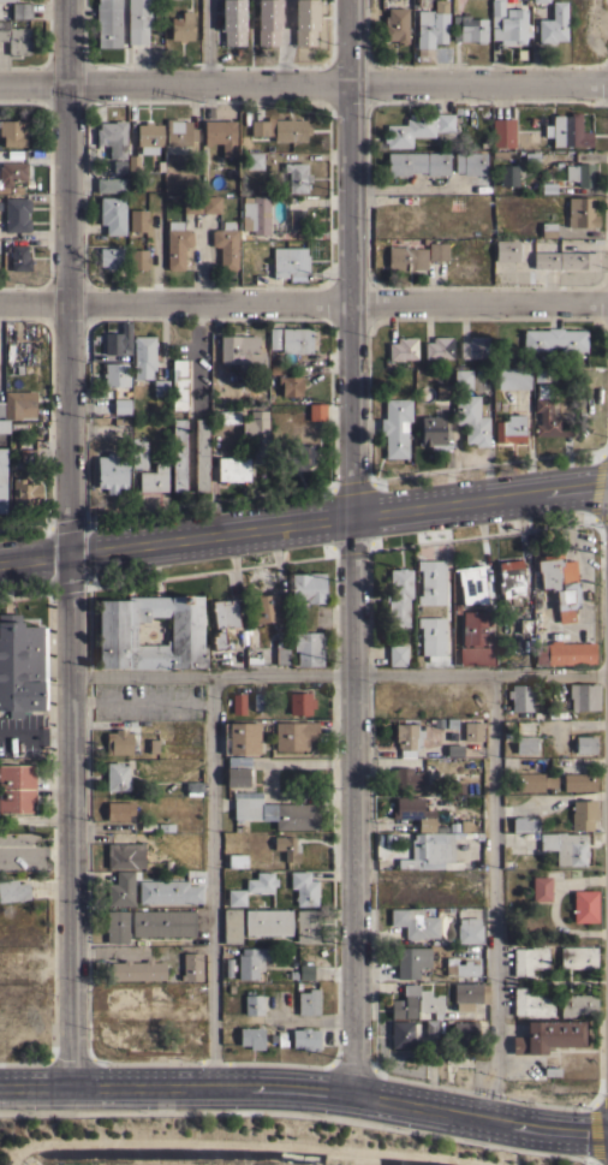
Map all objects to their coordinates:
building: (8, 0)
building: (541, 0)
building: (496, 7)
building: (22, 10)
building: (138, 20)
building: (232, 22)
building: (268, 22)
building: (305, 22)
building: (108, 23)
building: (553, 23)
building: (397, 24)
building: (509, 25)
building: (181, 26)
building: (429, 26)
building: (472, 29)
building: (14, 37)
road: (207, 40)
road: (304, 81)
building: (417, 127)
building: (280, 129)
building: (567, 130)
building: (13, 132)
building: (179, 132)
building: (502, 132)
building: (220, 135)
building: (148, 136)
building: (112, 137)
building: (254, 159)
building: (417, 162)
building: (470, 162)
building: (133, 164)
building: (115, 165)
building: (11, 173)
building: (508, 174)
building: (579, 174)
building: (297, 176)
building: (109, 182)
road: (400, 186)
building: (191, 204)
building: (210, 204)
building: (580, 212)
building: (16, 214)
building: (112, 214)
building: (255, 214)
building: (297, 218)
building: (137, 219)
building: (548, 230)
building: (226, 245)
building: (177, 246)
building: (437, 250)
building: (505, 250)
building: (19, 257)
building: (109, 257)
building: (406, 257)
building: (137, 258)
building: (571, 260)
building: (290, 262)
road: (304, 301)
building: (273, 338)
building: (554, 339)
building: (296, 340)
building: (117, 341)
building: (475, 346)
building: (403, 347)
building: (439, 347)
building: (240, 351)
building: (143, 356)
building: (114, 374)
building: (544, 374)
building: (512, 378)
building: (463, 379)
building: (178, 384)
building: (290, 385)
building: (160, 386)
building: (443, 392)
building: (219, 396)
building: (19, 404)
building: (121, 405)
building: (0, 408)
building: (316, 410)
building: (548, 414)
building: (225, 417)
building: (471, 420)
building: (4, 426)
building: (395, 427)
building: (509, 428)
building: (433, 432)
building: (256, 434)
building: (26, 452)
building: (138, 453)
building: (178, 454)
building: (201, 454)
building: (297, 454)
building: (233, 469)
building: (111, 471)
building: (154, 477)
building: (2, 480)
building: (24, 492)
road: (304, 529)
road: (68, 542)
road: (350, 545)
building: (511, 579)
building: (431, 582)
building: (560, 583)
building: (471, 584)
building: (308, 587)
building: (398, 596)
building: (264, 608)
building: (223, 619)
building: (526, 625)
building: (476, 628)
building: (117, 632)
building: (431, 635)
building: (308, 648)
building: (565, 653)
building: (281, 655)
building: (397, 655)
building: (477, 655)
building: (22, 665)
road: (338, 673)
building: (583, 695)
building: (521, 696)
road: (139, 700)
building: (260, 702)
building: (298, 702)
building: (237, 703)
building: (1, 715)
building: (32, 724)
building: (472, 732)
building: (293, 735)
building: (242, 737)
building: (409, 737)
building: (119, 742)
building: (525, 744)
building: (585, 744)
building: (453, 749)
building: (237, 771)
building: (115, 775)
building: (406, 777)
building: (534, 781)
building: (579, 781)
building: (17, 787)
building: (193, 787)
building: (118, 810)
building: (274, 810)
building: (415, 812)
building: (584, 815)
building: (524, 824)
building: (565, 846)
building: (286, 848)
road: (35, 850)
building: (428, 851)
building: (125, 856)
building: (236, 860)
road: (210, 878)
building: (251, 887)
building: (303, 887)
building: (120, 888)
building: (541, 888)
building: (13, 890)
building: (168, 891)
road: (493, 894)
building: (584, 905)
building: (267, 922)
building: (415, 922)
building: (162, 923)
building: (306, 925)
building: (117, 926)
building: (232, 926)
building: (469, 931)
road: (141, 949)
building: (578, 956)
building: (529, 958)
building: (250, 961)
building: (411, 961)
building: (191, 967)
building: (460, 967)
building: (137, 970)
building: (305, 971)
building: (471, 992)
building: (308, 1001)
building: (403, 1001)
building: (531, 1003)
building: (252, 1004)
building: (578, 1005)
building: (430, 1028)
building: (464, 1030)
building: (403, 1034)
building: (548, 1035)
building: (251, 1038)
building: (304, 1039)
road: (514, 1060)
road: (305, 1084)

